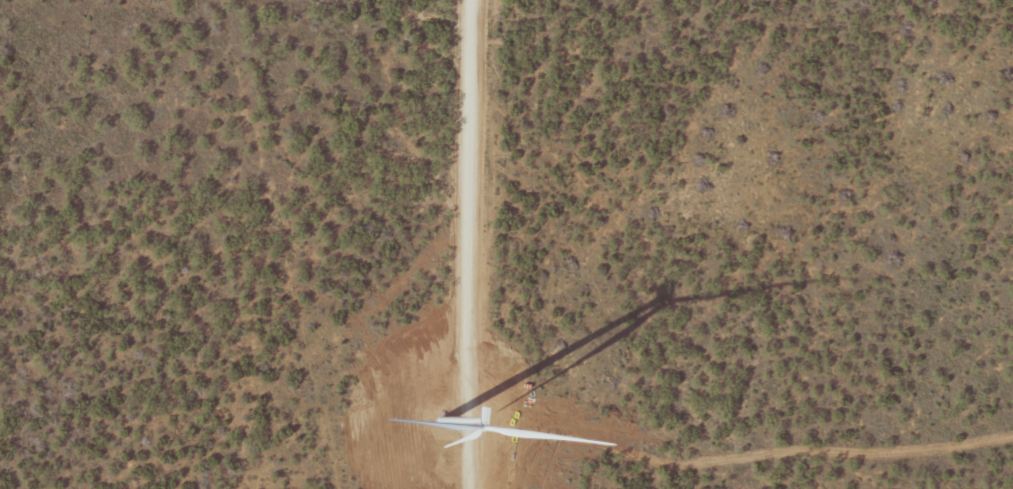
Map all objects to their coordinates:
road: (447, 244)
wind turbine: (481, 420)

